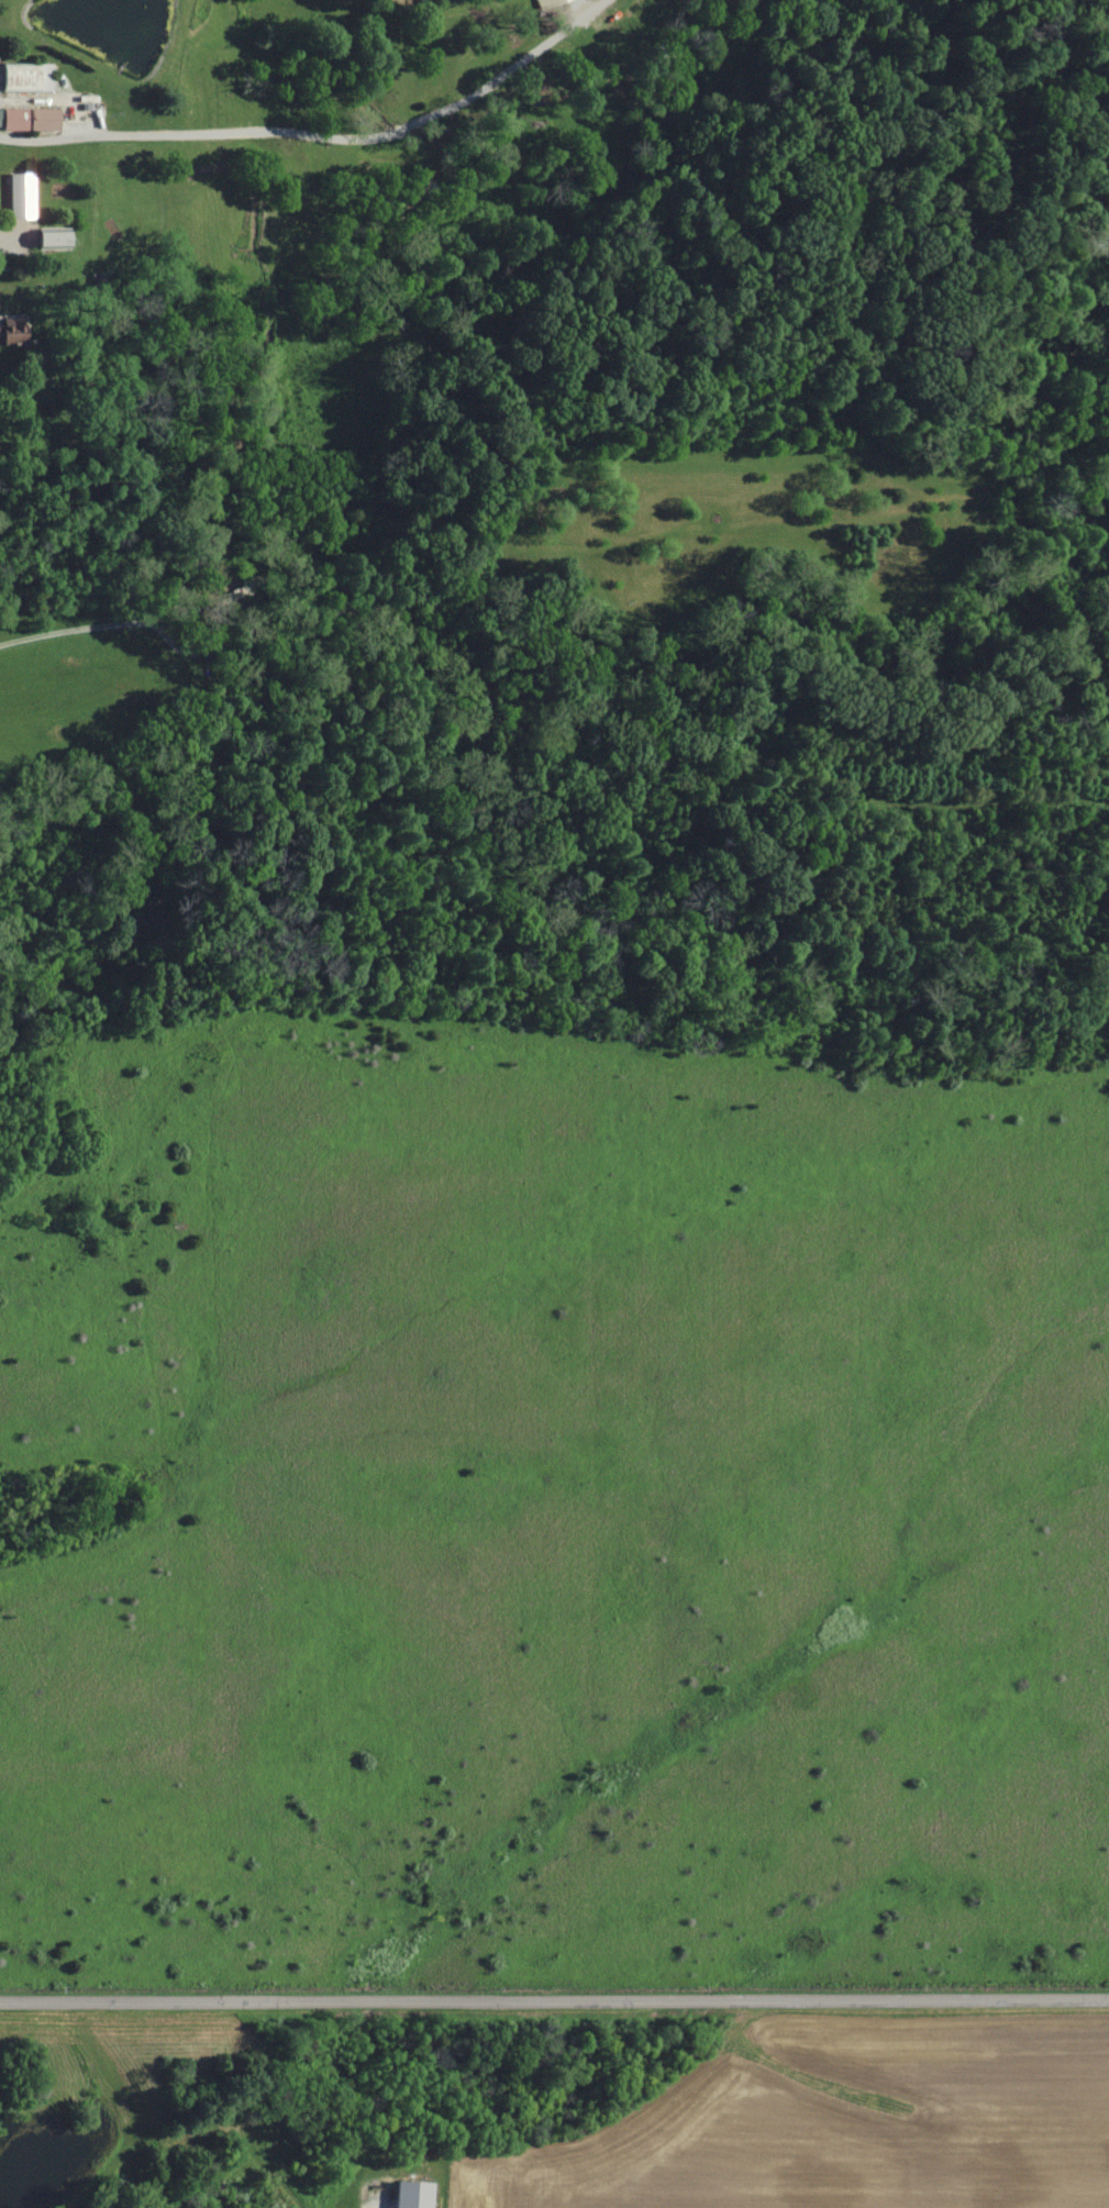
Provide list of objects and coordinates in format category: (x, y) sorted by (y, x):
building: (541, 1)
building: (24, 80)
building: (27, 120)
building: (18, 197)
building: (48, 240)
building: (9, 334)
road: (554, 1999)
building: (409, 2194)

